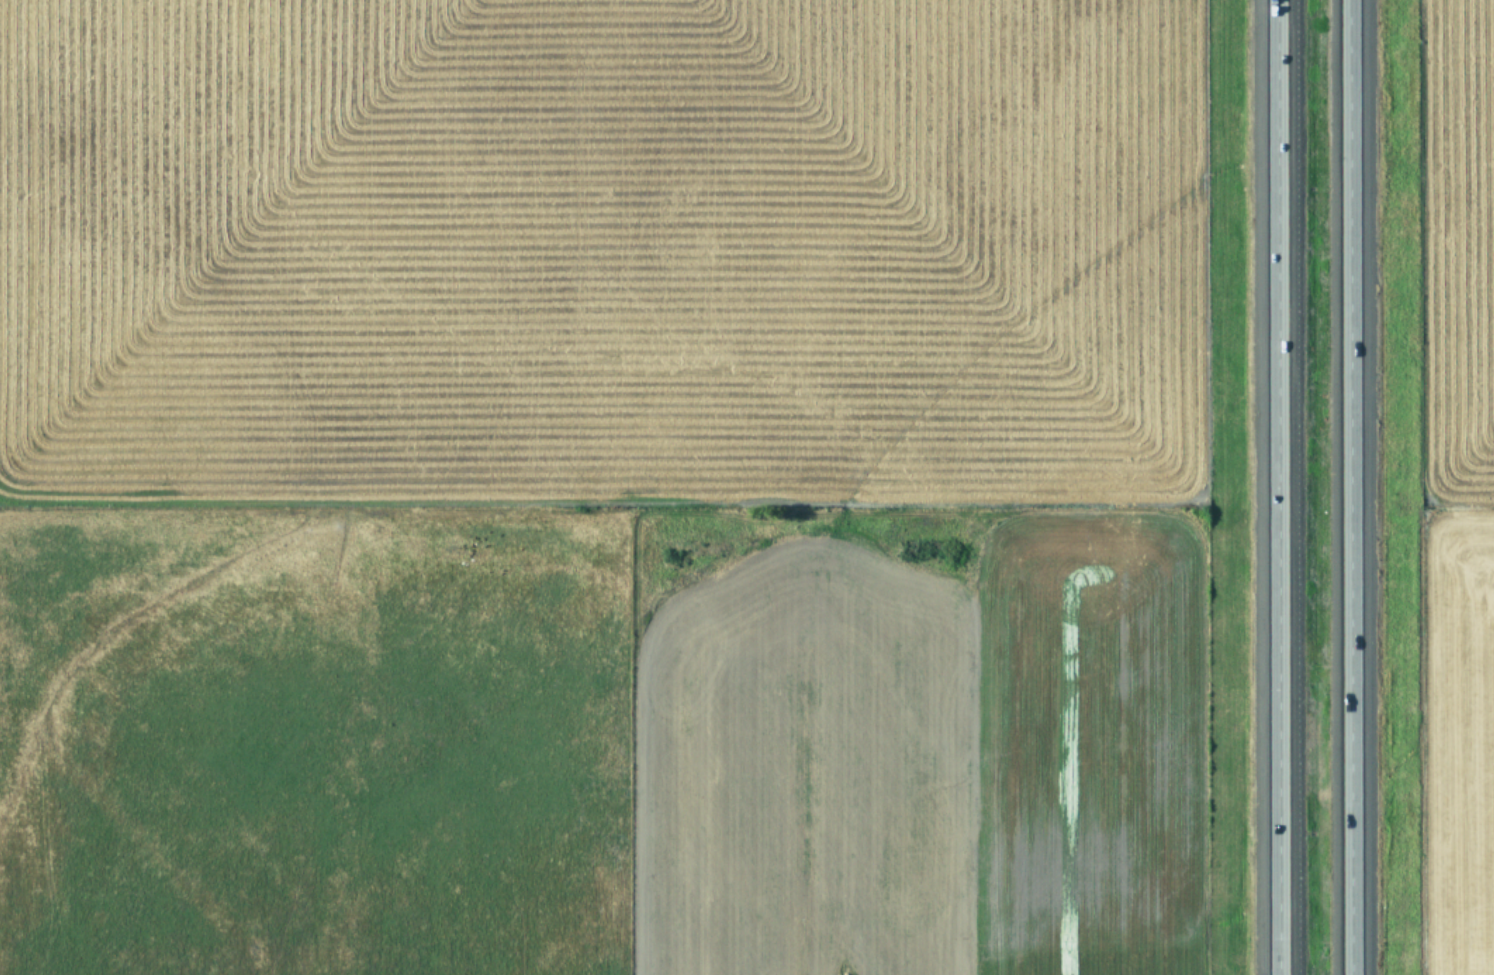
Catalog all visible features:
crop: (602, 487)
road: (1278, 487)
road: (1349, 487)
crop: (1451, 487)

